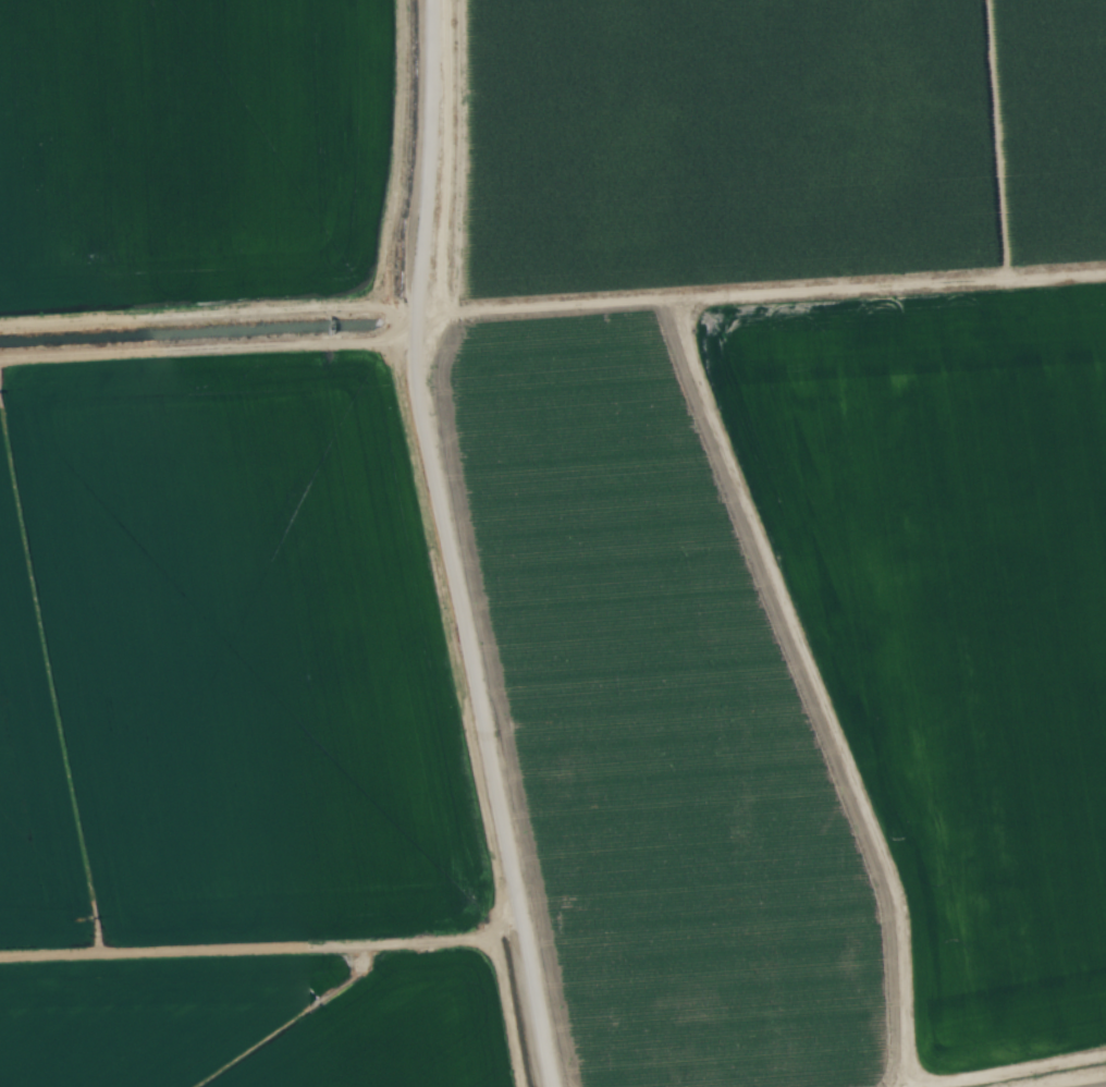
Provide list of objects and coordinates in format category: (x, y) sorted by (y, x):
road: (446, 547)

